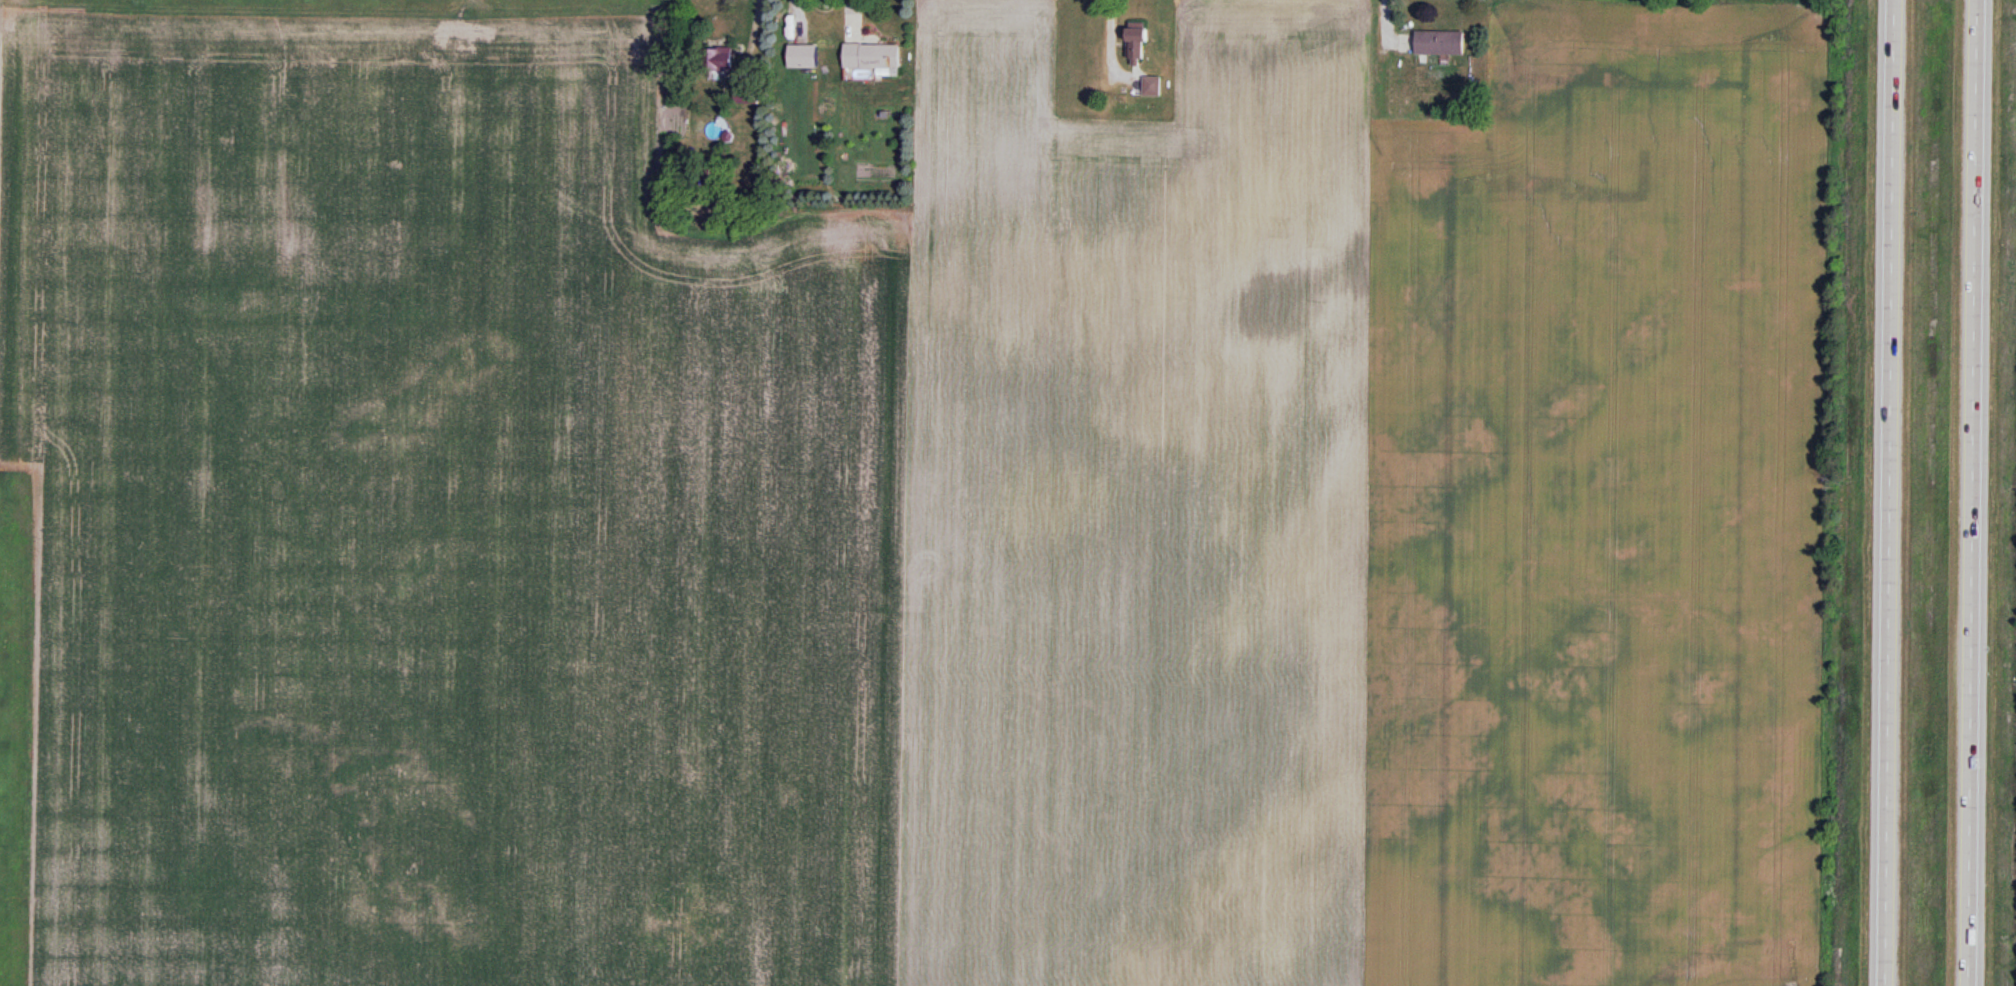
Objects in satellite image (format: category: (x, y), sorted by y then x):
building: (1135, 42)
building: (1439, 44)
building: (870, 56)
building: (802, 57)
building: (716, 62)
building: (1151, 87)
building: (745, 94)
road: (1887, 492)
road: (1974, 492)

